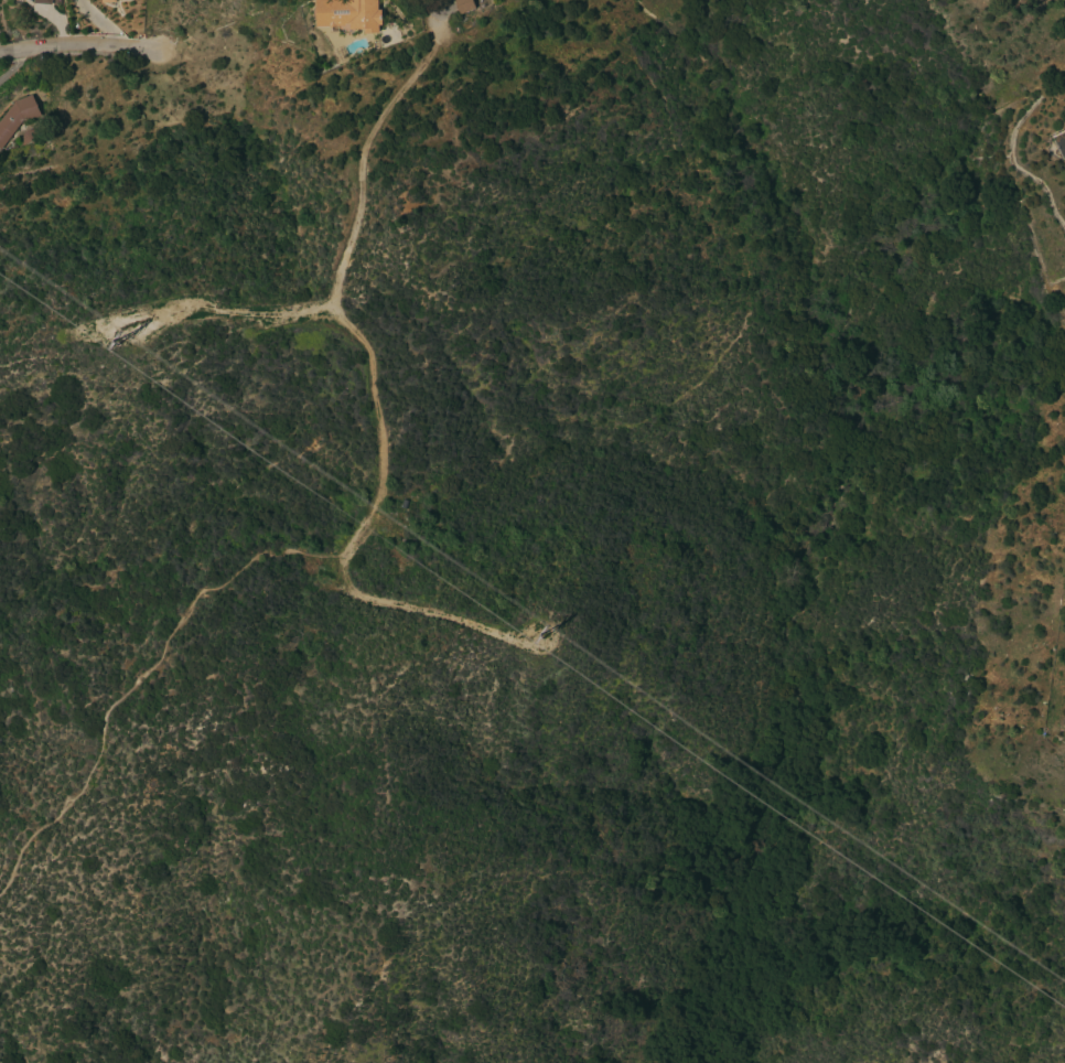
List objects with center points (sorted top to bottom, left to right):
building: (100, 0)
building: (41, 1)
building: (56, 1)
building: (108, 1)
building: (463, 6)
building: (347, 15)
road: (443, 23)
road: (98, 24)
road: (76, 44)
building: (17, 116)
building: (25, 137)
road: (1063, 150)
road: (232, 315)
power tower: (125, 336)
road: (379, 405)
park: (938, 546)
power tower: (550, 632)
road: (139, 685)
road: (21, 1060)

